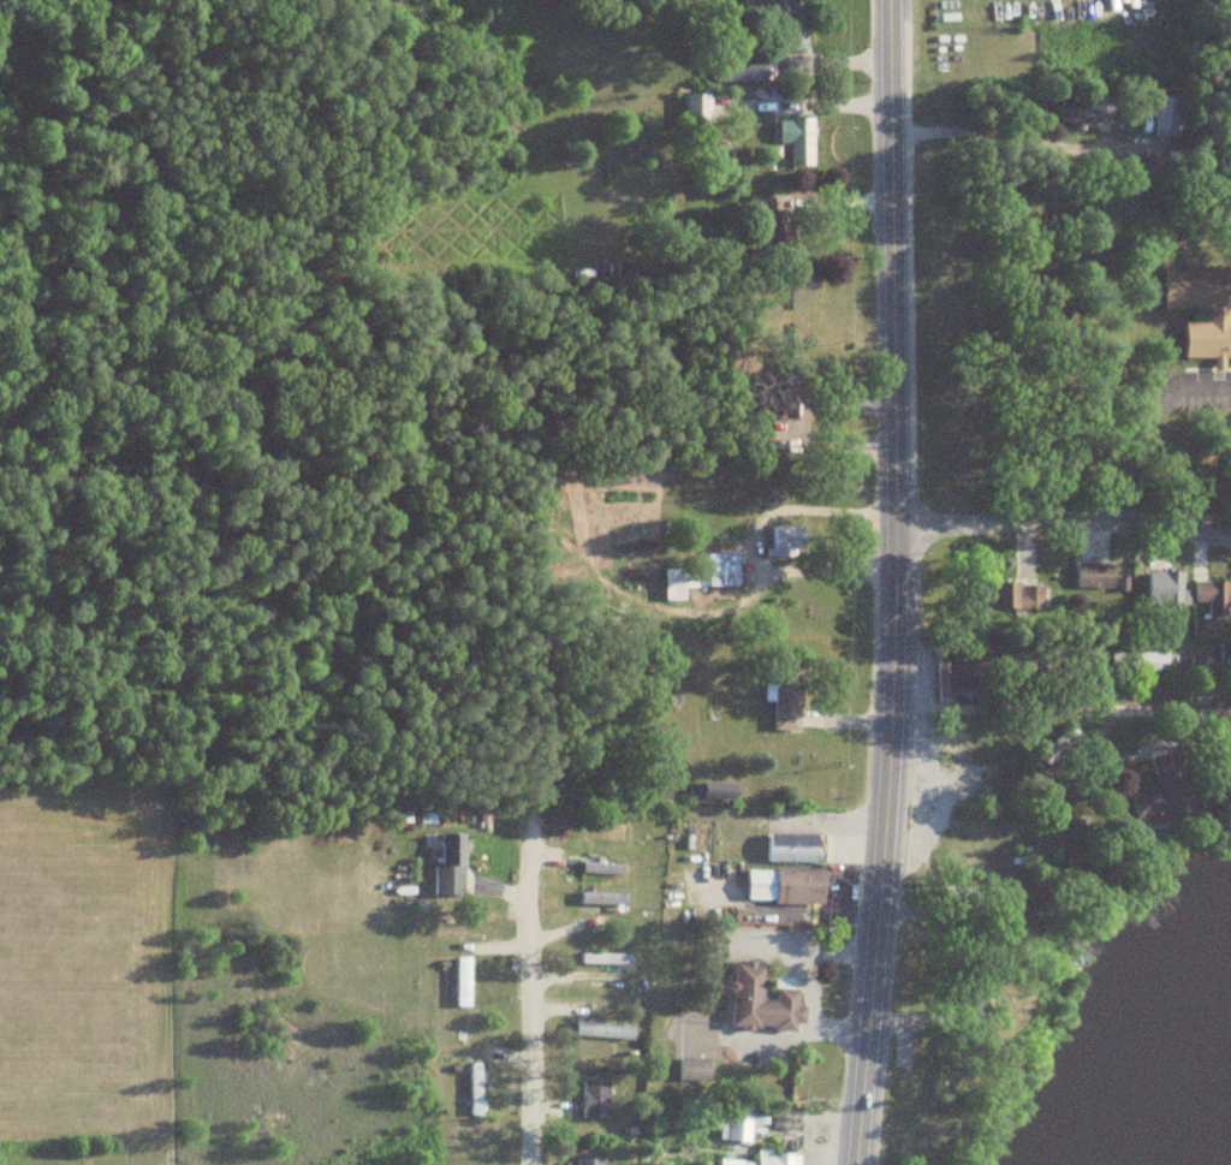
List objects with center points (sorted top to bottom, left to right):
building: (772, 20)
building: (696, 109)
building: (1082, 111)
building: (1166, 114)
building: (797, 138)
building: (762, 203)
building: (1218, 315)
road: (1060, 405)
road: (1063, 522)
building: (786, 541)
building: (701, 573)
building: (1094, 575)
road: (892, 583)
building: (1165, 588)
building: (1009, 596)
building: (1211, 605)
building: (1225, 654)
building: (1140, 661)
building: (955, 673)
road: (1162, 705)
building: (718, 792)
building: (1158, 796)
building: (602, 833)
building: (795, 848)
building: (450, 864)
building: (784, 885)
building: (608, 896)
building: (607, 958)
building: (463, 981)
road: (535, 991)
building: (762, 1001)
building: (603, 1029)
building: (692, 1069)
building: (475, 1088)
building: (594, 1100)
building: (777, 1158)
building: (588, 1160)

